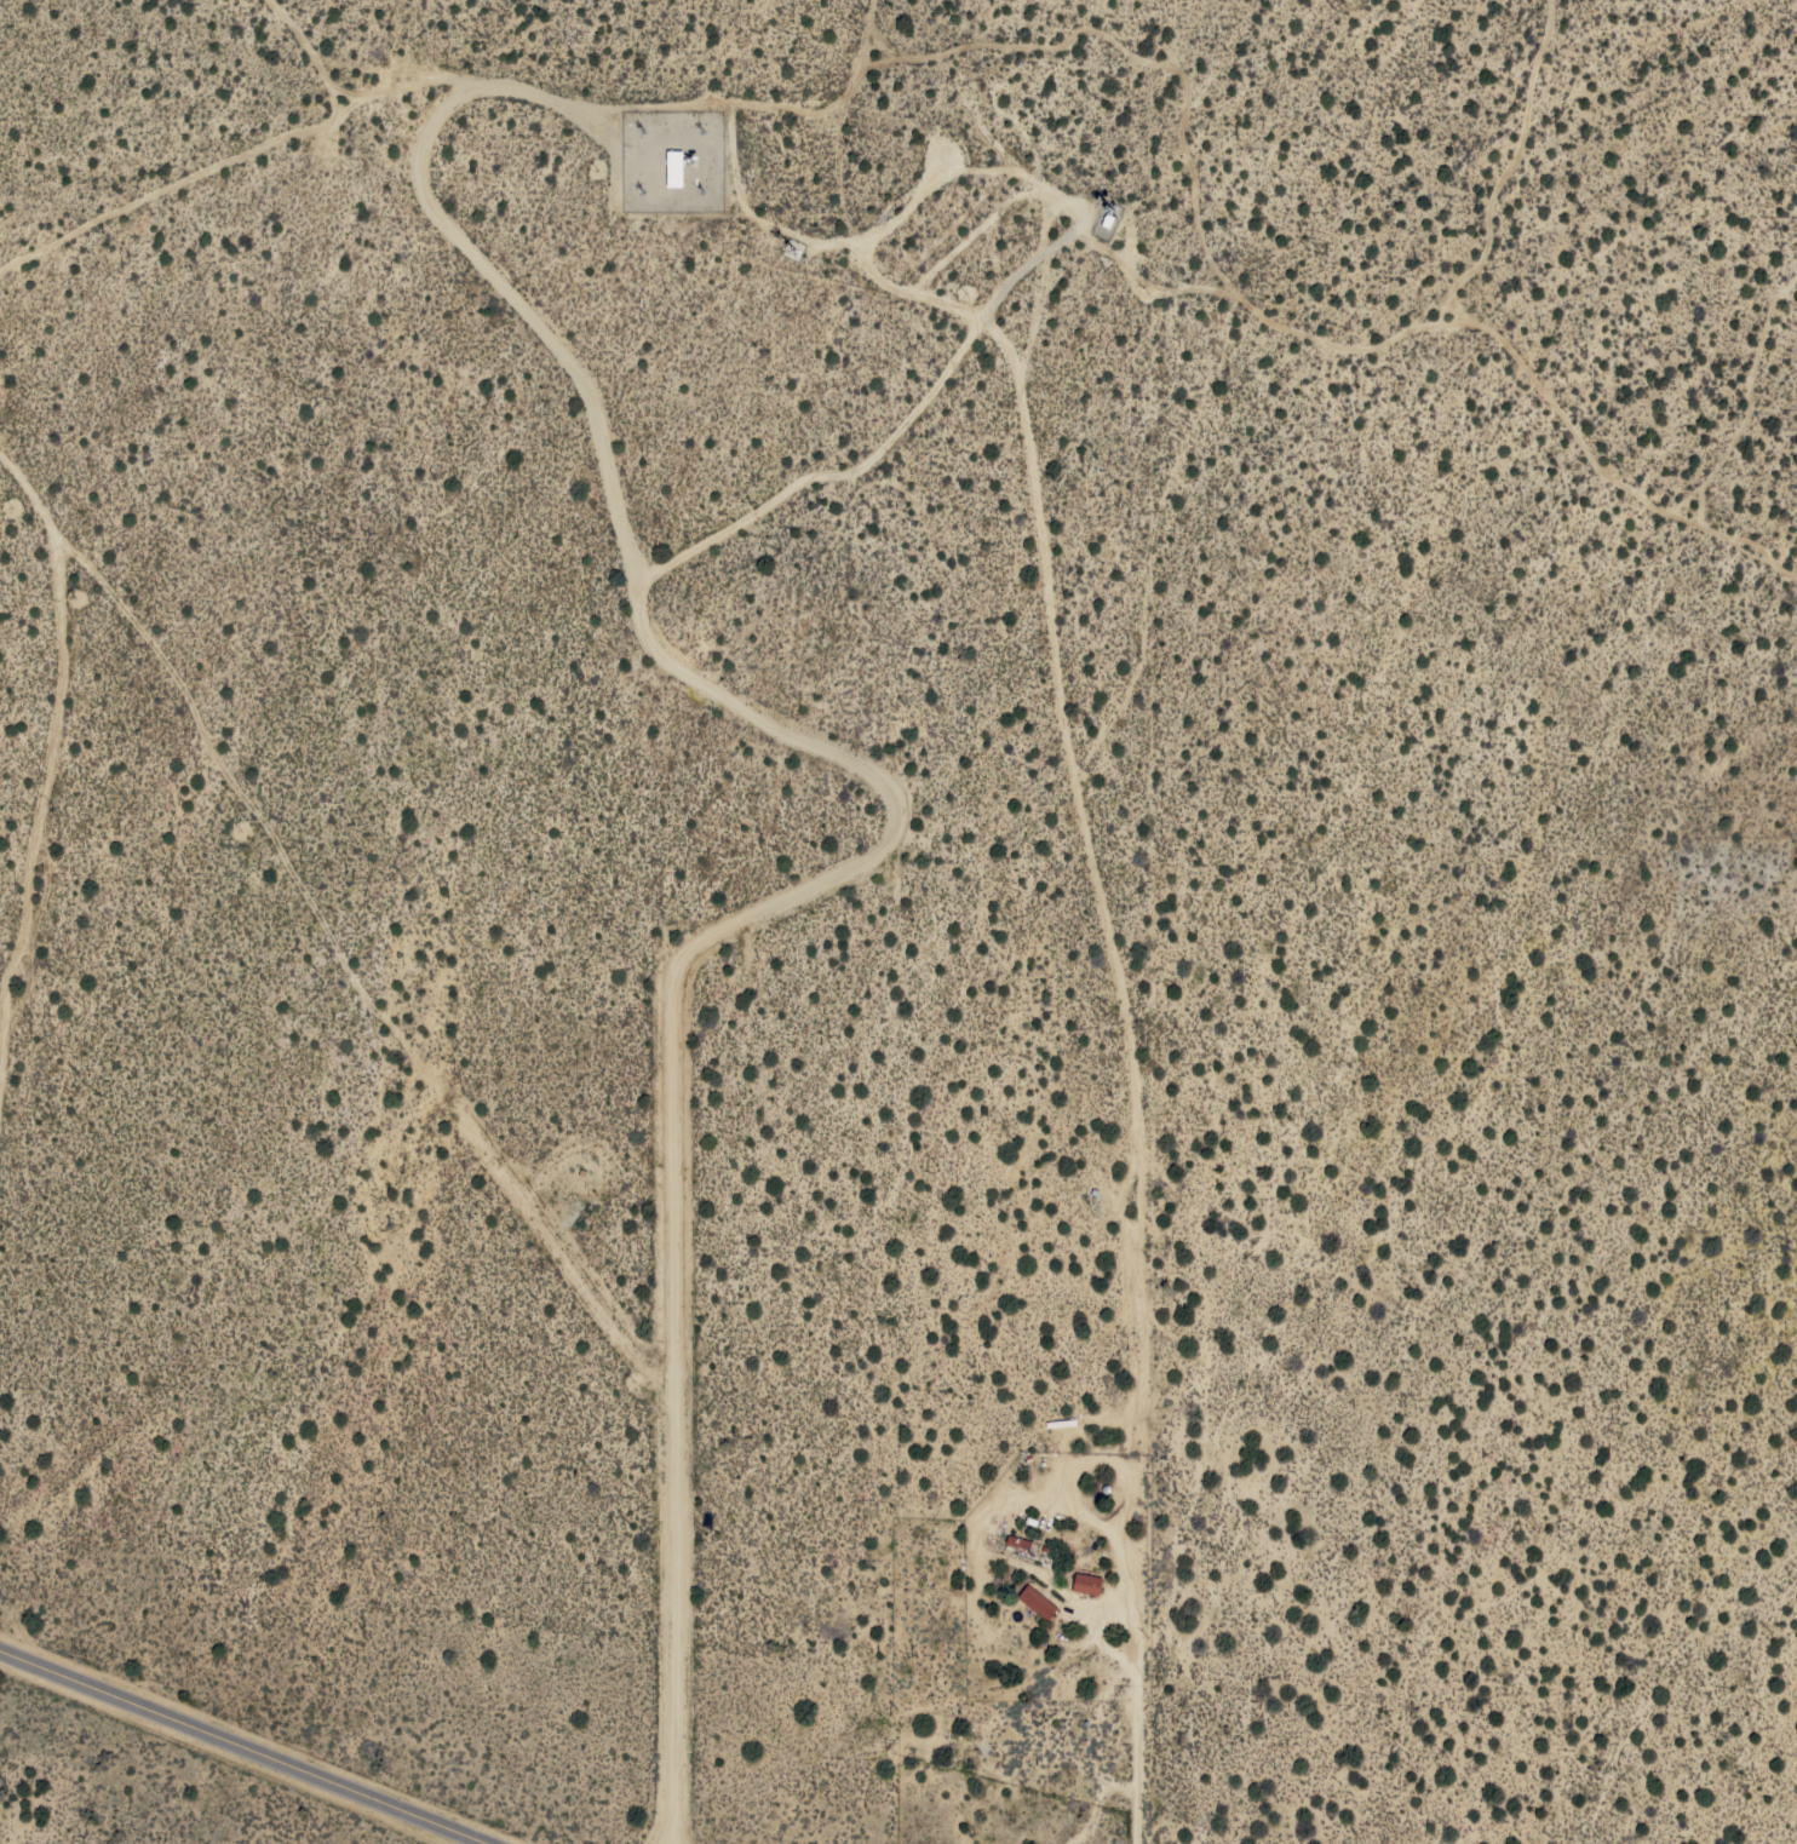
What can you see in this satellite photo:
building: (674, 168)
road: (914, 197)
road: (827, 473)
road: (1056, 651)
road: (883, 840)
building: (1061, 1423)
road: (977, 1533)
building: (1018, 1541)
building: (1086, 1582)
building: (1037, 1602)
road: (247, 1746)

